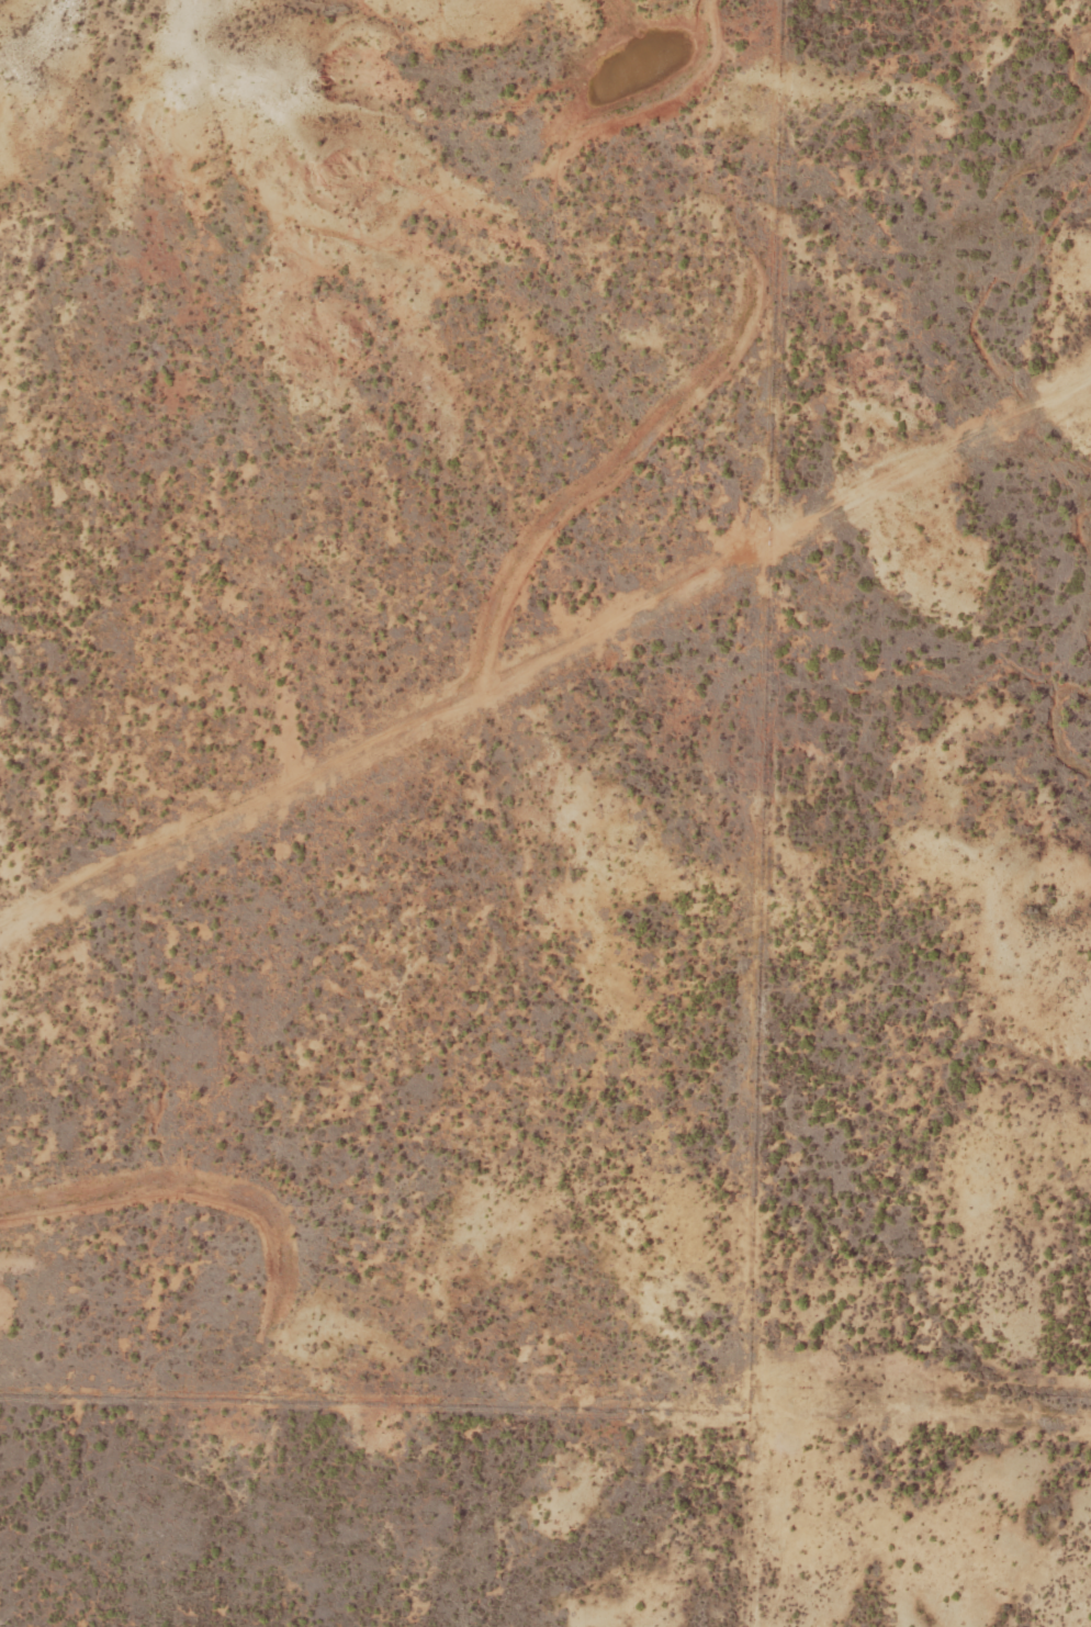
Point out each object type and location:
road: (1075, 1594)

